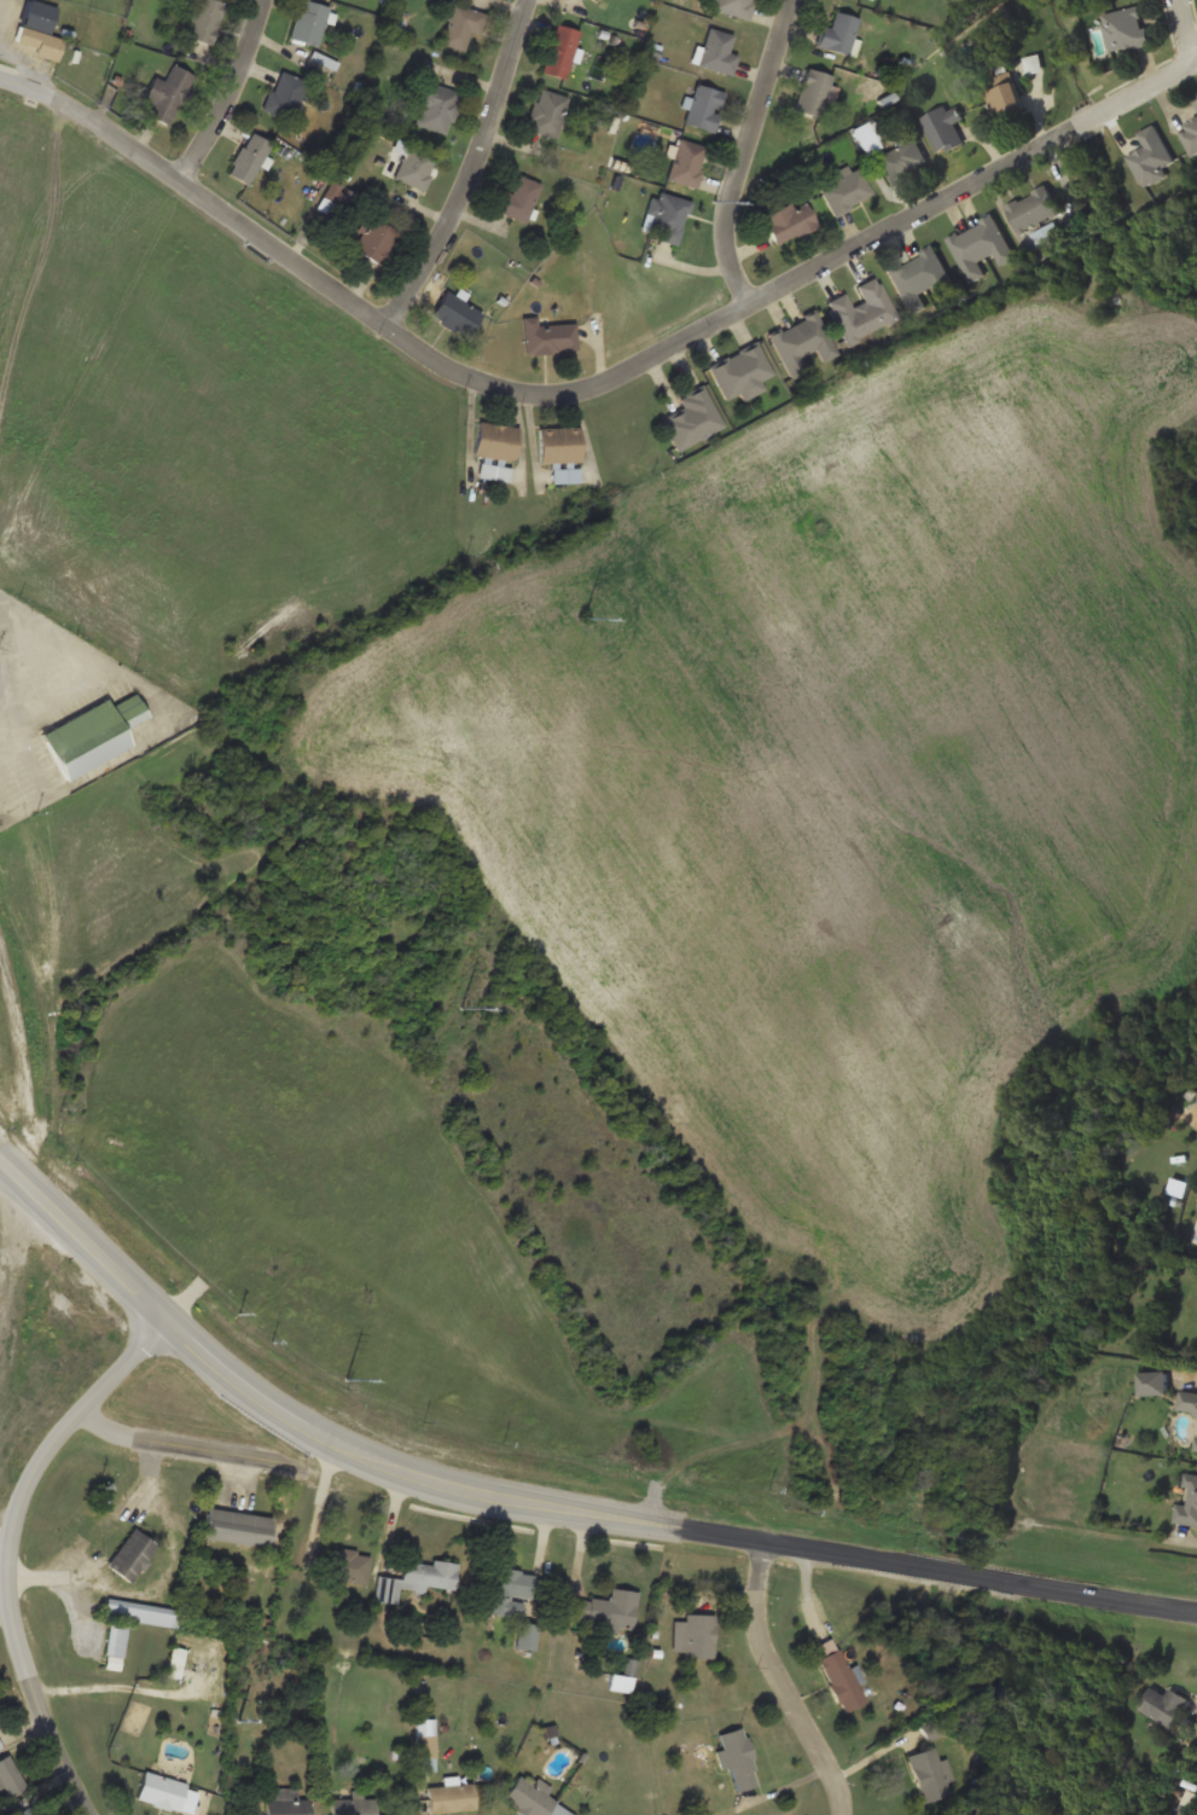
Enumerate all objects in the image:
building: (733, 6)
building: (205, 21)
building: (309, 22)
building: (463, 25)
building: (1125, 28)
building: (39, 29)
road: (1185, 30)
building: (837, 33)
building: (560, 51)
building: (717, 51)
road: (229, 91)
building: (813, 92)
building: (167, 94)
building: (285, 94)
building: (1003, 97)
building: (1195, 103)
building: (436, 106)
building: (704, 108)
building: (546, 112)
building: (942, 127)
building: (1190, 135)
road: (745, 151)
building: (249, 157)
building: (902, 161)
building: (686, 163)
building: (414, 167)
road: (471, 168)
building: (846, 191)
building: (518, 198)
building: (1032, 208)
building: (667, 215)
building: (788, 221)
building: (373, 239)
building: (978, 247)
building: (920, 276)
building: (861, 311)
building: (455, 314)
building: (547, 336)
building: (801, 342)
building: (742, 372)
road: (593, 385)
building: (693, 418)
building: (558, 445)
building: (495, 450)
building: (92, 735)
road: (81, 1237)
building: (1186, 1401)
building: (1195, 1442)
road: (179, 1448)
building: (1186, 1502)
road: (657, 1523)
building: (236, 1526)
road: (6, 1548)
building: (130, 1554)
building: (351, 1568)
building: (416, 1578)
building: (509, 1588)
building: (603, 1610)
building: (698, 1636)
building: (114, 1647)
building: (175, 1662)
building: (838, 1675)
road: (786, 1681)
building: (1161, 1704)
building: (1, 1744)
building: (425, 1744)
building: (738, 1758)
building: (929, 1774)
building: (165, 1791)
building: (451, 1798)
building: (531, 1798)
building: (284, 1802)
building: (359, 1803)
building: (29, 1809)
building: (1183, 1810)

